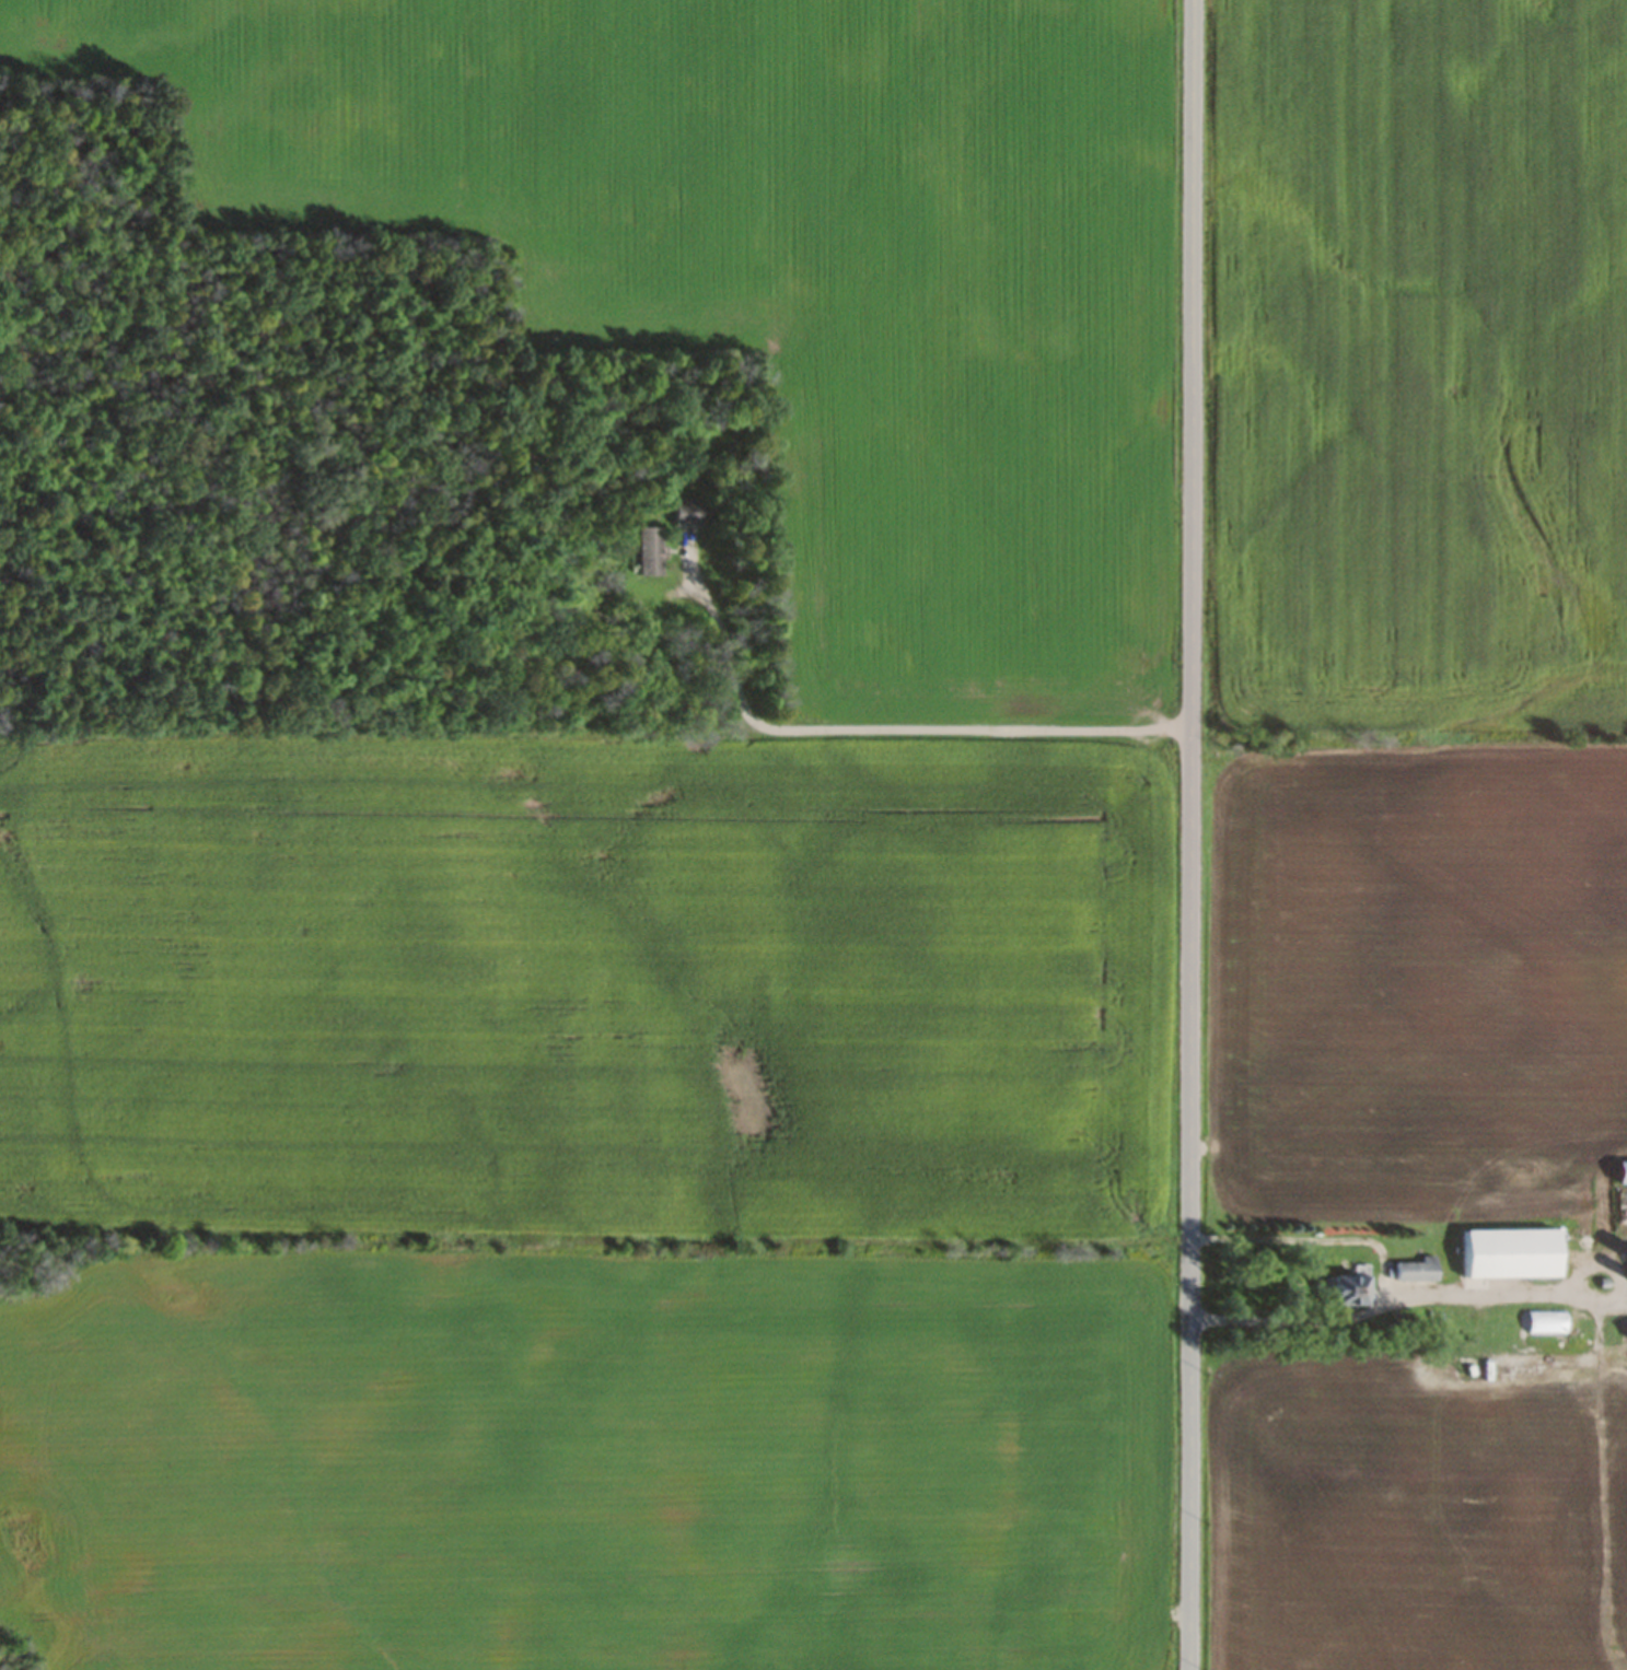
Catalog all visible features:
crop: (788, 257)
crop: (1427, 361)
building: (688, 511)
building: (651, 550)
road: (1194, 834)
building: (1624, 1172)
building: (1518, 1252)
building: (1419, 1269)
building: (1352, 1289)
building: (1548, 1321)

